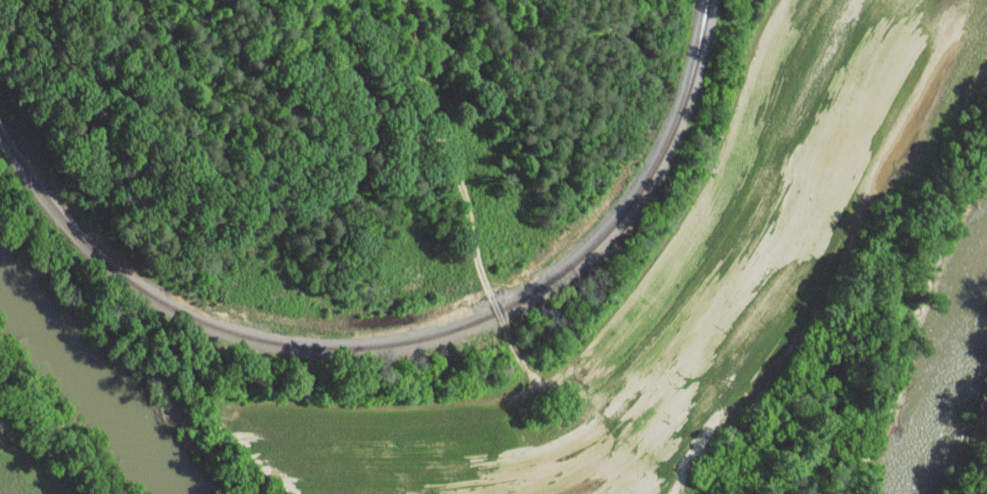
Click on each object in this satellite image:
river: (945, 304)
railway: (406, 341)
river: (87, 385)
river: (918, 442)

